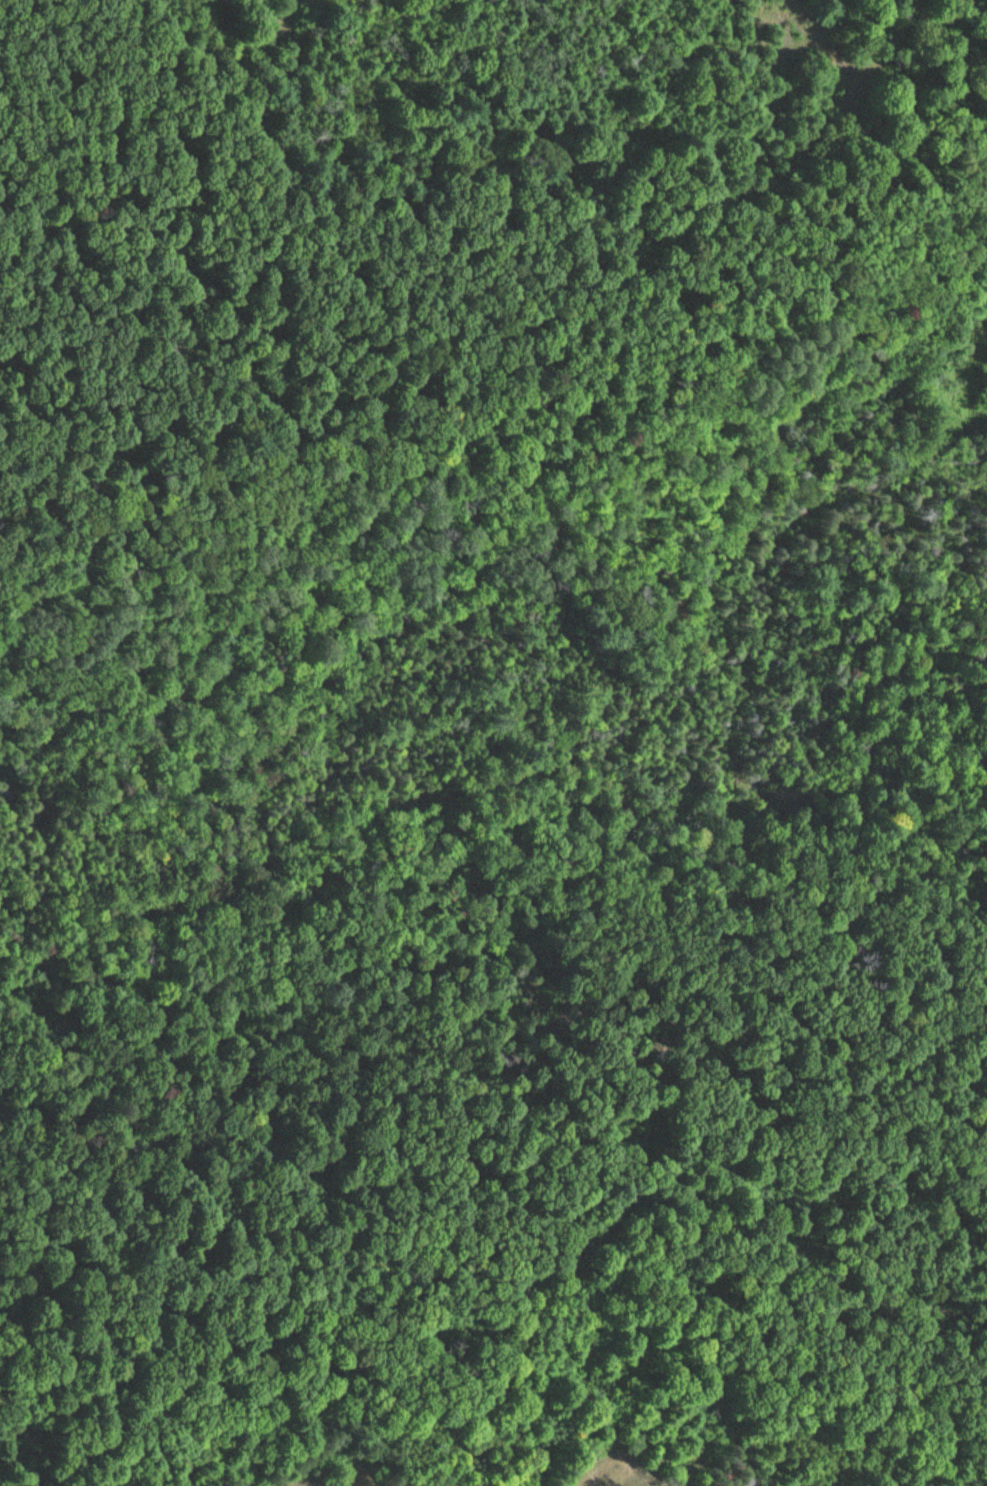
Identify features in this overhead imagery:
river: (461, 611)

